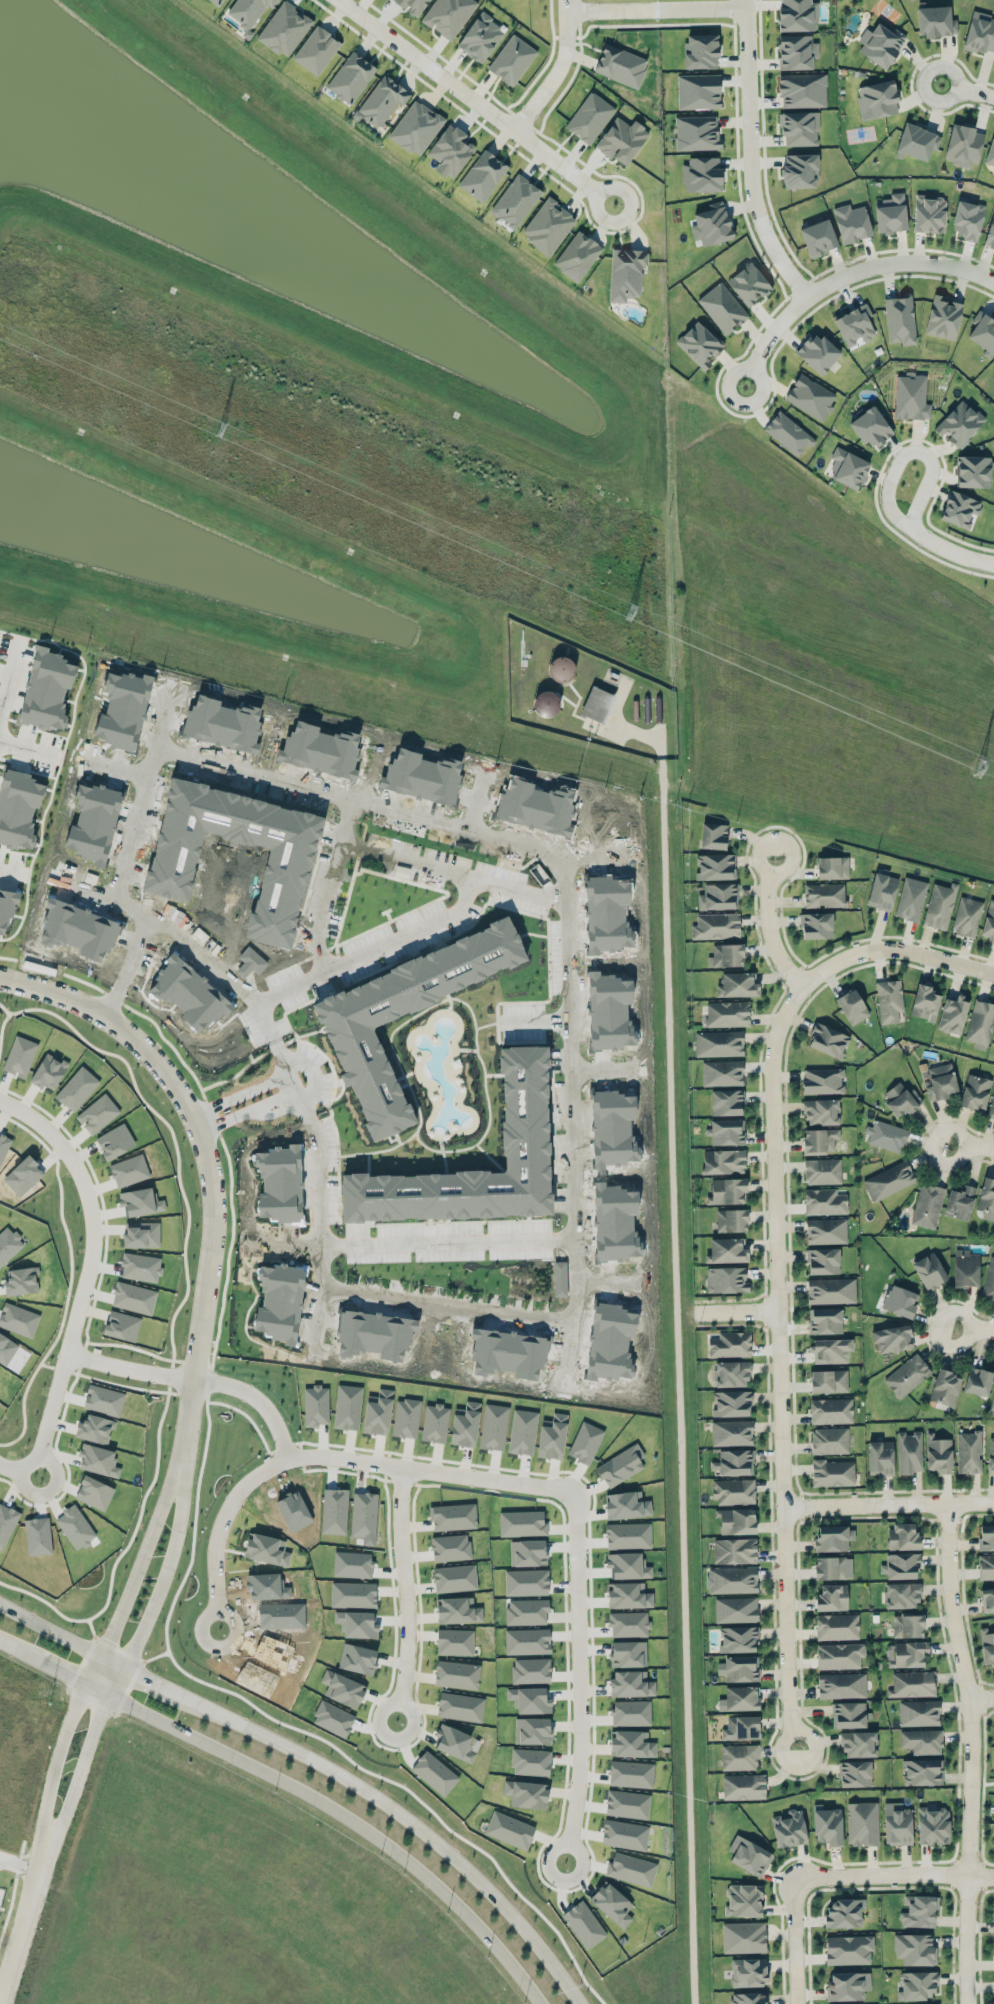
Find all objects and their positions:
building: (217, 2)
building: (412, 6)
road: (656, 10)
building: (247, 11)
building: (448, 15)
building: (797, 15)
building: (935, 21)
building: (284, 29)
building: (980, 33)
building: (480, 37)
building: (880, 44)
building: (316, 50)
building: (700, 51)
building: (796, 52)
building: (512, 59)
building: (620, 65)
road: (557, 71)
building: (350, 77)
building: (802, 90)
road: (967, 90)
building: (698, 91)
building: (877, 99)
building: (381, 101)
road: (475, 102)
building: (589, 117)
building: (416, 127)
building: (799, 128)
building: (697, 133)
building: (621, 140)
building: (917, 142)
building: (963, 145)
building: (450, 150)
building: (990, 152)
road: (749, 156)
building: (993, 170)
building: (799, 171)
building: (702, 174)
building: (483, 175)
building: (515, 200)
building: (891, 213)
building: (929, 214)
building: (967, 218)
building: (852, 223)
building: (711, 224)
building: (548, 225)
building: (990, 233)
building: (818, 237)
building: (577, 256)
building: (626, 273)
road: (845, 277)
building: (748, 284)
building: (722, 308)
building: (943, 317)
building: (900, 319)
building: (855, 325)
building: (983, 332)
building: (699, 344)
building: (818, 353)
building: (810, 397)
building: (911, 397)
building: (959, 423)
building: (871, 427)
power tower: (212, 433)
building: (788, 433)
road: (910, 451)
building: (848, 468)
building: (973, 471)
building: (959, 509)
road: (951, 550)
power tower: (628, 612)
road: (10, 674)
building: (46, 690)
building: (546, 703)
road: (1, 704)
building: (597, 704)
road: (31, 748)
road: (60, 760)
power tower: (980, 765)
road: (272, 772)
building: (18, 808)
building: (713, 836)
building: (715, 866)
building: (832, 867)
road: (14, 871)
road: (453, 871)
building: (882, 890)
building: (824, 895)
building: (718, 896)
building: (911, 899)
building: (939, 905)
building: (7, 907)
building: (966, 916)
building: (989, 921)
building: (716, 925)
road: (768, 925)
building: (816, 925)
road: (410, 935)
building: (726, 955)
road: (206, 958)
road: (939, 958)
building: (416, 983)
building: (737, 984)
building: (889, 1000)
building: (924, 1002)
building: (852, 1006)
building: (727, 1013)
building: (952, 1014)
building: (980, 1024)
building: (827, 1040)
building: (993, 1042)
building: (718, 1043)
building: (20, 1056)
building: (722, 1072)
building: (822, 1080)
building: (941, 1081)
road: (288, 1084)
building: (975, 1091)
building: (901, 1099)
building: (726, 1102)
building: (991, 1107)
building: (821, 1111)
road: (203, 1121)
building: (726, 1131)
building: (886, 1135)
building: (819, 1140)
road: (970, 1147)
building: (723, 1161)
road: (208, 1163)
building: (129, 1170)
building: (822, 1171)
building: (888, 1180)
building: (727, 1191)
building: (382, 1195)
building: (986, 1196)
building: (824, 1201)
building: (960, 1201)
building: (927, 1205)
road: (575, 1206)
road: (90, 1218)
building: (731, 1220)
building: (826, 1230)
road: (448, 1239)
building: (726, 1250)
building: (823, 1260)
building: (965, 1268)
building: (929, 1271)
building: (726, 1279)
building: (21, 1280)
building: (989, 1280)
building: (831, 1290)
building: (899, 1301)
road: (737, 1309)
road: (779, 1314)
building: (824, 1320)
road: (972, 1327)
building: (892, 1338)
building: (730, 1344)
building: (830, 1350)
road: (125, 1368)
road: (676, 1373)
building: (731, 1373)
building: (907, 1375)
building: (828, 1380)
building: (977, 1381)
building: (945, 1387)
building: (992, 1402)
building: (731, 1403)
building: (831, 1410)
building: (378, 1412)
building: (95, 1429)
building: (731, 1432)
building: (829, 1440)
road: (42, 1441)
building: (909, 1452)
building: (968, 1452)
building: (938, 1453)
building: (990, 1453)
building: (880, 1457)
building: (98, 1460)
building: (734, 1462)
building: (620, 1465)
building: (832, 1472)
road: (543, 1487)
building: (733, 1491)
road: (889, 1504)
building: (453, 1516)
building: (736, 1520)
building: (522, 1523)
road: (211, 1530)
building: (627, 1535)
building: (903, 1536)
building: (832, 1537)
building: (986, 1537)
building: (450, 1547)
building: (266, 1549)
building: (734, 1550)
road: (143, 1557)
building: (900, 1565)
road: (169, 1566)
building: (830, 1567)
building: (986, 1567)
building: (455, 1578)
building: (731, 1580)
building: (526, 1582)
road: (398, 1595)
building: (628, 1595)
building: (901, 1595)
building: (832, 1597)
building: (987, 1599)
building: (735, 1609)
building: (457, 1610)
building: (526, 1611)
building: (907, 1625)
building: (837, 1626)
road: (51, 1629)
building: (738, 1639)
building: (527, 1640)
building: (454, 1641)
road: (12, 1646)
building: (987, 1646)
building: (839, 1655)
road: (113, 1660)
road: (50, 1667)
road: (90, 1668)
building: (739, 1668)
building: (530, 1670)
building: (456, 1674)
road: (113, 1679)
road: (156, 1680)
building: (631, 1683)
building: (912, 1683)
building: (841, 1685)
road: (90, 1687)
building: (342, 1688)
building: (739, 1698)
road: (981, 1698)
building: (530, 1699)
building: (460, 1706)
building: (918, 1713)
building: (848, 1714)
building: (333, 1718)
building: (741, 1727)
building: (993, 1729)
building: (532, 1730)
building: (921, 1741)
building: (454, 1742)
building: (631, 1744)
building: (859, 1744)
road: (970, 1752)
road: (51, 1756)
building: (739, 1756)
building: (530, 1761)
road: (77, 1764)
building: (434, 1772)
building: (922, 1772)
building: (631, 1773)
building: (854, 1773)
road: (988, 1781)
building: (743, 1786)
road: (982, 1788)
building: (526, 1793)
building: (627, 1804)
road: (347, 1813)
road: (410, 1818)
building: (862, 1823)
building: (897, 1824)
building: (827, 1825)
building: (933, 1825)
building: (789, 1828)
building: (509, 1829)
building: (624, 1834)
building: (992, 1834)
building: (749, 1855)
road: (989, 1862)
road: (17, 1865)
building: (630, 1868)
road: (892, 1870)
building: (743, 1900)
road: (24, 1902)
building: (612, 1903)
building: (919, 1910)
building: (843, 1912)
building: (584, 1924)
building: (743, 1937)
road: (792, 1938)
building: (848, 1949)
building: (915, 1949)
building: (748, 1971)
building: (847, 1985)
building: (917, 1985)
building: (748, 1998)

